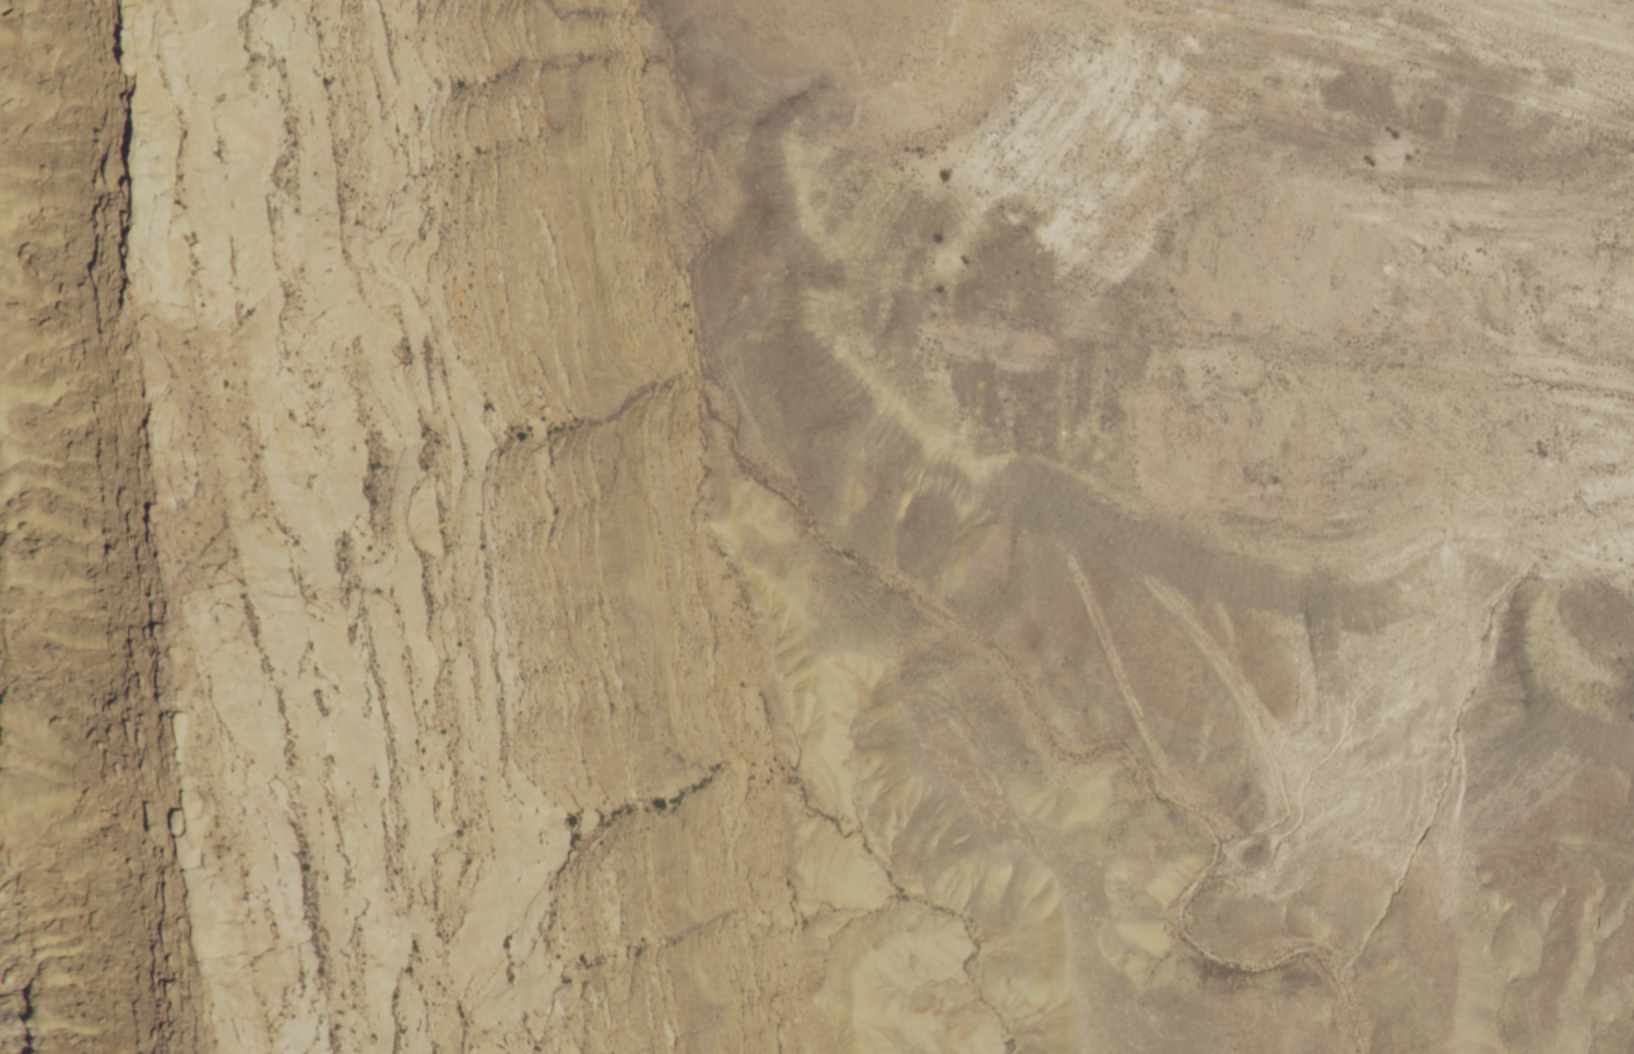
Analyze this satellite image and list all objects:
road: (1330, 73)

